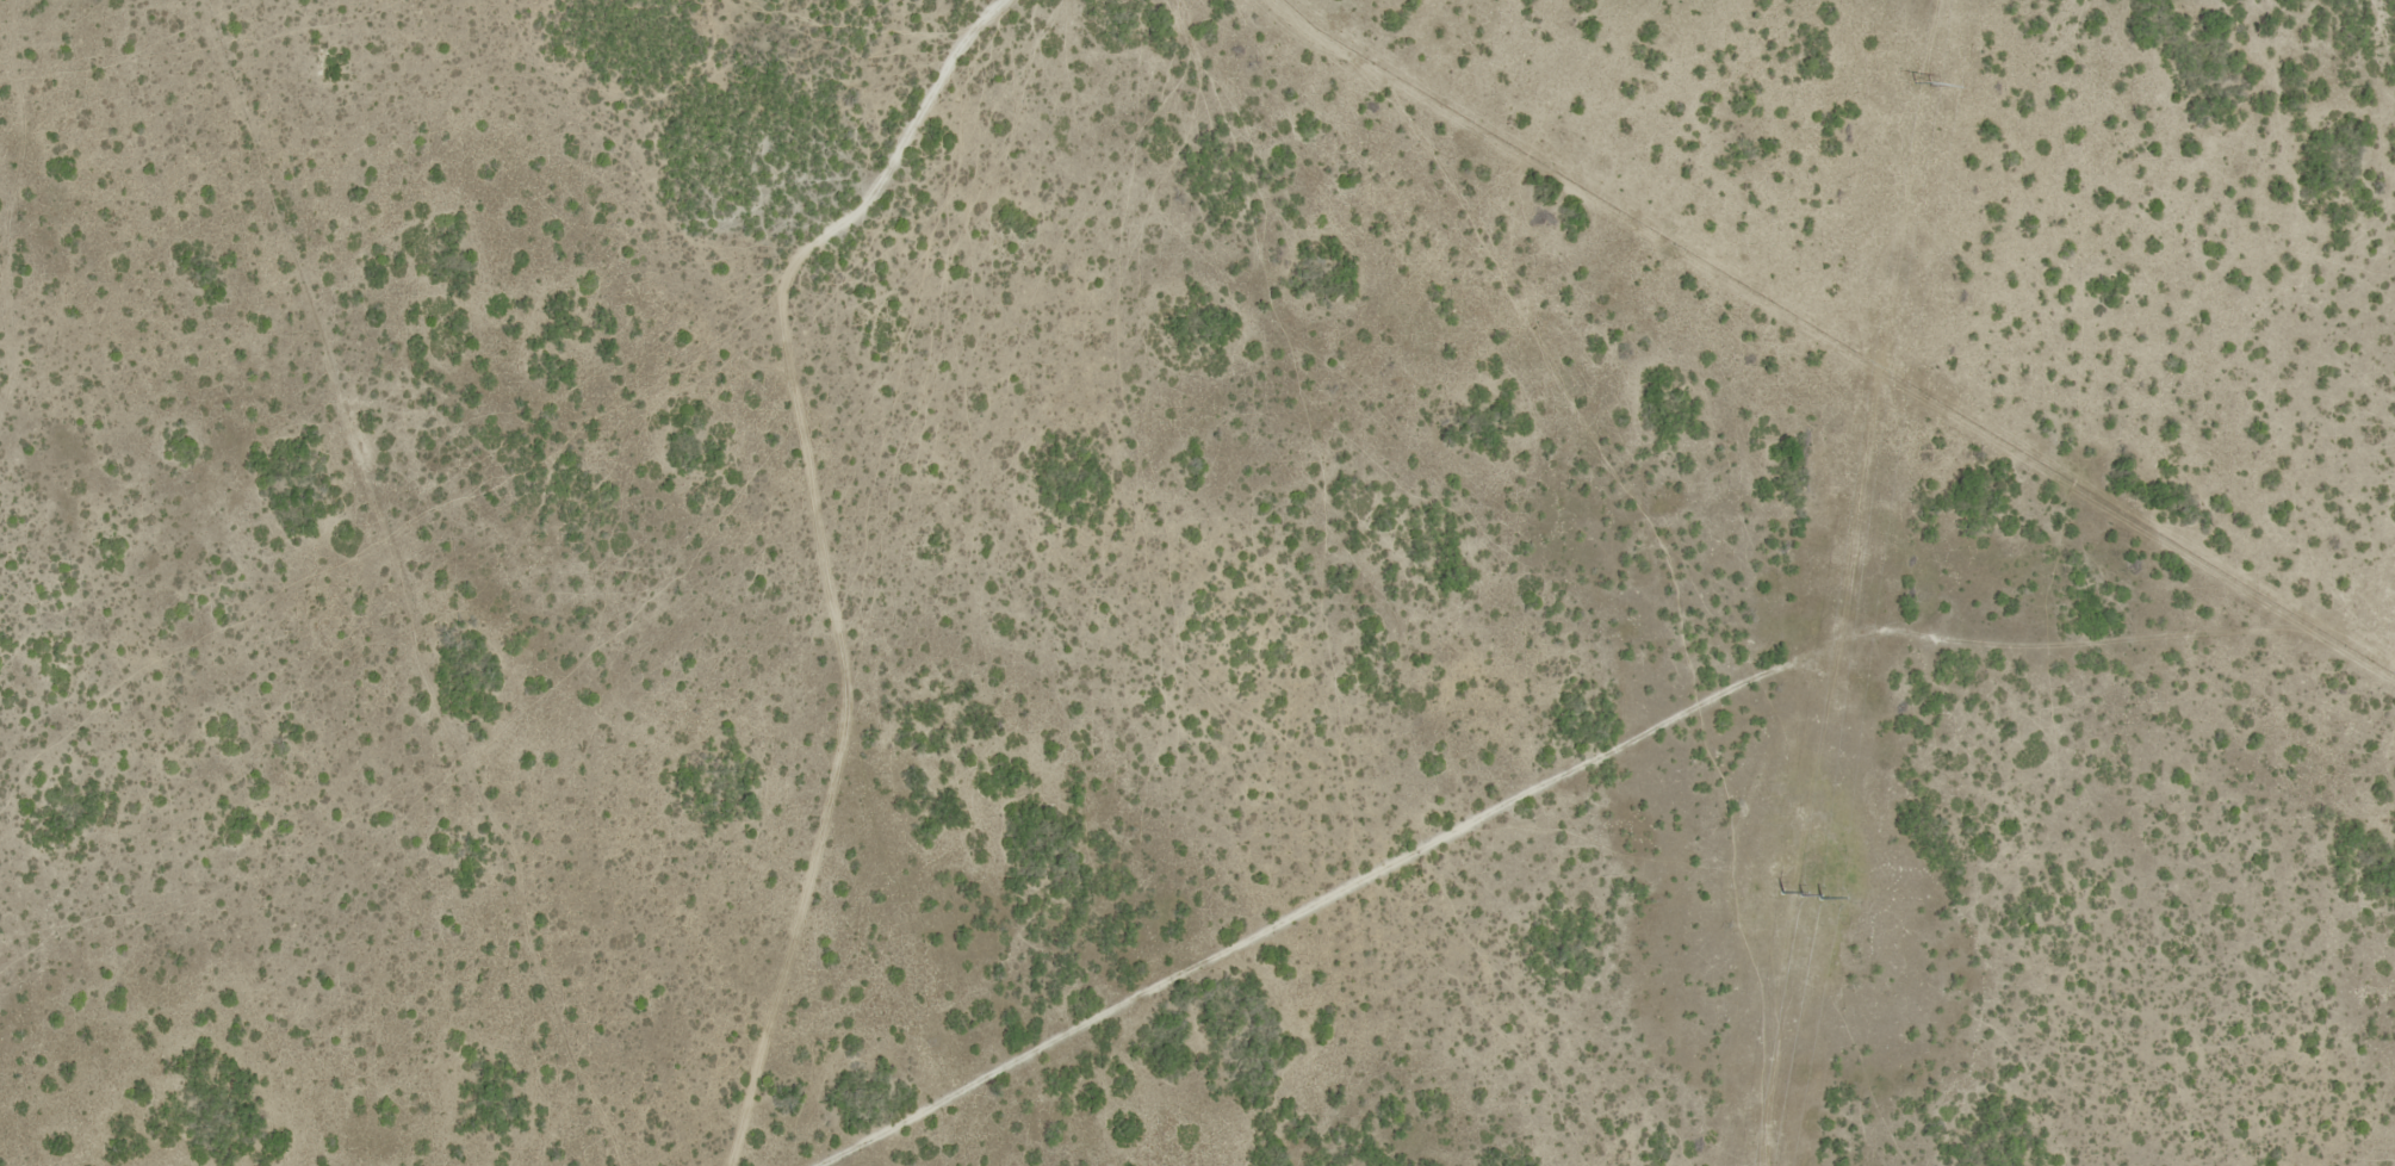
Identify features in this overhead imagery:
power tower: (1921, 83)
power tower: (1803, 883)

